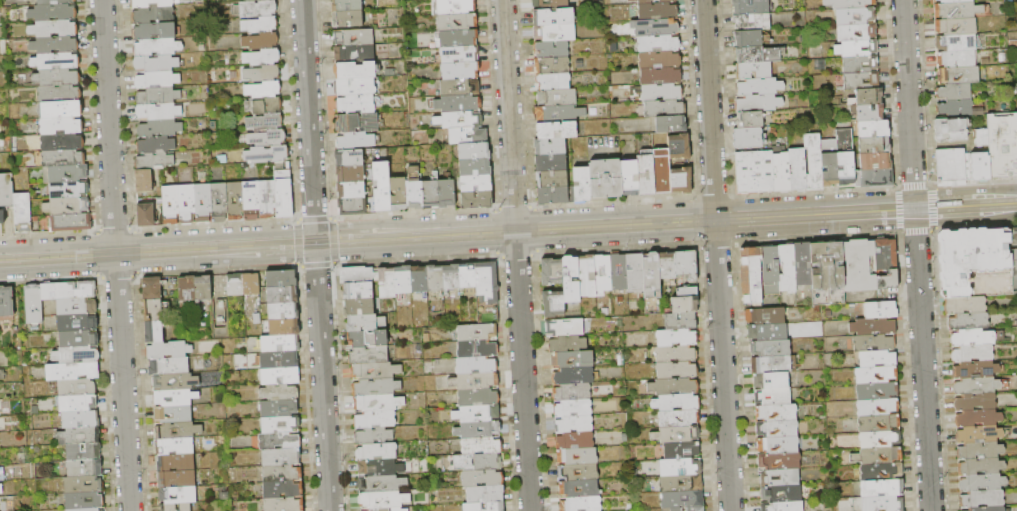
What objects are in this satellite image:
building: (255, 0)
building: (946, 1)
building: (54, 2)
building: (644, 2)
building: (150, 3)
building: (847, 3)
building: (549, 4)
building: (344, 5)
building: (454, 6)
building: (749, 6)
building: (257, 9)
building: (955, 10)
building: (658, 11)
building: (52, 12)
building: (151, 14)
building: (854, 16)
building: (553, 17)
building: (345, 19)
building: (750, 22)
building: (444, 23)
building: (259, 25)
building: (953, 26)
building: (53, 28)
building: (655, 28)
building: (152, 30)
building: (855, 32)
building: (553, 33)
building: (340, 38)
building: (456, 38)
building: (746, 38)
building: (260, 41)
building: (953, 42)
building: (658, 43)
building: (54, 44)
building: (155, 47)
building: (855, 48)
building: (549, 50)
building: (353, 54)
building: (457, 54)
building: (756, 54)
building: (261, 57)
building: (954, 59)
building: (54, 60)
building: (658, 60)
building: (154, 63)
building: (858, 64)
building: (551, 65)
building: (353, 70)
building: (458, 70)
building: (752, 70)
building: (261, 74)
building: (956, 75)
building: (660, 76)
building: (56, 77)
building: (155, 80)
building: (859, 80)
building: (552, 81)
building: (353, 86)
building: (758, 86)
building: (458, 87)
building: (262, 90)
building: (660, 92)
building: (951, 92)
building: (58, 93)
building: (156, 96)
building: (867, 96)
building: (556, 97)
building: (756, 102)
building: (456, 103)
building: (353, 104)
road: (908, 104)
building: (266, 106)
building: (663, 108)
building: (956, 108)
building: (61, 109)
road: (708, 109)
building: (157, 112)
building: (869, 112)
building: (558, 113)
road: (508, 115)
building: (457, 119)
building: (748, 119)
road: (308, 120)
building: (264, 122)
building: (345, 123)
building: (670, 124)
building: (60, 125)
road: (108, 126)
building: (158, 128)
building: (871, 129)
building: (948, 129)
building: (555, 130)
building: (456, 135)
building: (746, 137)
building: (979, 137)
building: (266, 138)
building: (352, 140)
building: (61, 141)
building: (154, 144)
building: (872, 144)
building: (1002, 145)
building: (549, 147)
building: (679, 147)
building: (472, 151)
building: (266, 155)
building: (62, 157)
building: (347, 158)
building: (843, 158)
building: (152, 161)
building: (812, 161)
building: (873, 161)
building: (550, 163)
building: (951, 166)
building: (979, 166)
building: (473, 167)
building: (796, 169)
building: (828, 169)
building: (661, 170)
building: (752, 171)
building: (780, 171)
building: (64, 173)
building: (348, 173)
building: (282, 174)
building: (645, 175)
building: (628, 178)
building: (873, 178)
building: (551, 179)
building: (604, 179)
building: (680, 180)
building: (143, 181)
road: (975, 181)
building: (474, 183)
road: (914, 184)
building: (581, 185)
building: (379, 186)
building: (57, 190)
building: (349, 190)
road: (962, 190)
road: (815, 191)
building: (396, 193)
building: (444, 193)
building: (5, 194)
building: (412, 194)
building: (428, 194)
building: (551, 195)
building: (283, 197)
road: (713, 197)
railway: (937, 198)
building: (266, 199)
road: (935, 199)
building: (250, 200)
building: (474, 200)
building: (238, 201)
road: (612, 202)
building: (195, 203)
building: (222, 203)
building: (66, 204)
building: (180, 204)
building: (173, 205)
road: (965, 205)
building: (350, 206)
road: (934, 207)
road: (514, 208)
road: (898, 209)
building: (22, 212)
road: (414, 213)
road: (814, 214)
railway: (982, 214)
building: (145, 215)
road: (936, 216)
road: (314, 219)
road: (734, 219)
building: (70, 221)
road: (694, 221)
road: (964, 221)
road: (385, 223)
road: (214, 224)
road: (614, 225)
railway: (508, 228)
road: (976, 228)
road: (114, 229)
railway: (337, 230)
road: (533, 230)
road: (916, 231)
road: (335, 232)
road: (497, 232)
road: (48, 233)
railway: (508, 234)
road: (415, 236)
road: (817, 237)
road: (333, 240)
road: (297, 242)
road: (715, 243)
road: (215, 247)
road: (615, 248)
railway: (293, 250)
building: (974, 250)
road: (134, 252)
road: (295, 252)
road: (98, 254)
road: (516, 254)
road: (5, 256)
road: (57, 256)
building: (1014, 258)
road: (315, 259)
road: (416, 259)
road: (246, 260)
building: (886, 263)
road: (316, 264)
building: (686, 264)
building: (803, 264)
building: (859, 265)
building: (667, 266)
building: (827, 266)
building: (787, 268)
road: (217, 271)
building: (770, 271)
building: (551, 272)
building: (618, 272)
building: (603, 273)
building: (635, 273)
building: (356, 275)
road: (117, 276)
building: (451, 276)
building: (467, 276)
building: (587, 276)
building: (751, 276)
building: (435, 278)
building: (281, 279)
building: (419, 279)
building: (571, 279)
road: (50, 280)
building: (403, 280)
building: (486, 280)
building: (387, 283)
building: (251, 284)
building: (652, 284)
building: (976, 284)
building: (235, 285)
road: (116, 286)
building: (152, 288)
building: (203, 288)
building: (187, 289)
building: (68, 290)
building: (358, 291)
building: (687, 292)
building: (282, 295)
building: (6, 301)
building: (34, 304)
building: (553, 304)
building: (685, 305)
building: (964, 305)
building: (77, 307)
building: (359, 307)
building: (153, 310)
building: (881, 310)
building: (283, 311)
building: (765, 316)
building: (681, 322)
building: (968, 322)
building: (77, 323)
building: (365, 323)
building: (283, 327)
building: (565, 327)
building: (873, 327)
building: (154, 332)
building: (476, 332)
building: (768, 332)
building: (367, 337)
building: (677, 338)
building: (973, 338)
building: (79, 339)
building: (874, 343)
building: (280, 344)
building: (567, 344)
building: (771, 348)
building: (477, 349)
building: (168, 350)
building: (369, 354)
building: (676, 354)
building: (973, 354)
building: (76, 355)
building: (878, 359)
building: (279, 360)
building: (573, 360)
road: (922, 360)
building: (476, 365)
road: (722, 365)
building: (771, 365)
building: (168, 366)
building: (375, 370)
road: (523, 370)
building: (677, 370)
building: (975, 371)
building: (73, 372)
building: (877, 375)
building: (280, 376)
building: (573, 376)
building: (175, 381)
building: (474, 381)
building: (771, 381)
building: (76, 387)
building: (376, 387)
building: (673, 387)
building: (974, 387)
building: (877, 391)
building: (279, 392)
building: (572, 392)
road: (323, 393)
building: (772, 397)
building: (175, 398)
building: (478, 398)
building: (77, 402)
building: (975, 402)
building: (378, 403)
building: (677, 403)
building: (879, 407)
building: (279, 408)
building: (573, 408)
building: (776, 413)
building: (173, 414)
building: (477, 414)
road: (124, 415)
building: (679, 418)
building: (80, 419)
building: (977, 419)
building: (375, 420)
building: (879, 423)
building: (280, 424)
building: (574, 425)
building: (777, 429)
building: (478, 430)
building: (178, 431)
building: (677, 435)
building: (978, 435)
building: (81, 436)
building: (374, 436)
building: (880, 439)
building: (279, 441)
building: (574, 441)
building: (778, 445)
building: (481, 446)
building: (175, 447)
building: (681, 451)
building: (979, 451)
building: (84, 452)
building: (376, 452)
building: (577, 456)
building: (877, 456)
building: (281, 457)
building: (779, 461)
building: (478, 462)
building: (175, 463)
building: (680, 467)
building: (981, 467)
building: (84, 468)
building: (380, 468)
building: (882, 472)
building: (578, 473)
building: (0, 474)
building: (282, 474)
building: (780, 478)
building: (483, 479)
building: (176, 480)
building: (982, 483)
building: (381, 484)
building: (681, 484)
building: (83, 485)
building: (882, 488)
building: (1, 489)
building: (579, 489)
building: (283, 490)
building: (485, 494)
building: (782, 494)
building: (178, 495)
building: (982, 499)
building: (384, 500)
building: (682, 500)
building: (84, 501)
building: (1, 502)
building: (284, 504)
building: (582, 504)
building: (882, 504)
building: (782, 506)
building: (176, 507)
building: (485, 507)
building: (390, 509)
building: (689, 509)
building: (987, 509)
building: (88, 510)

